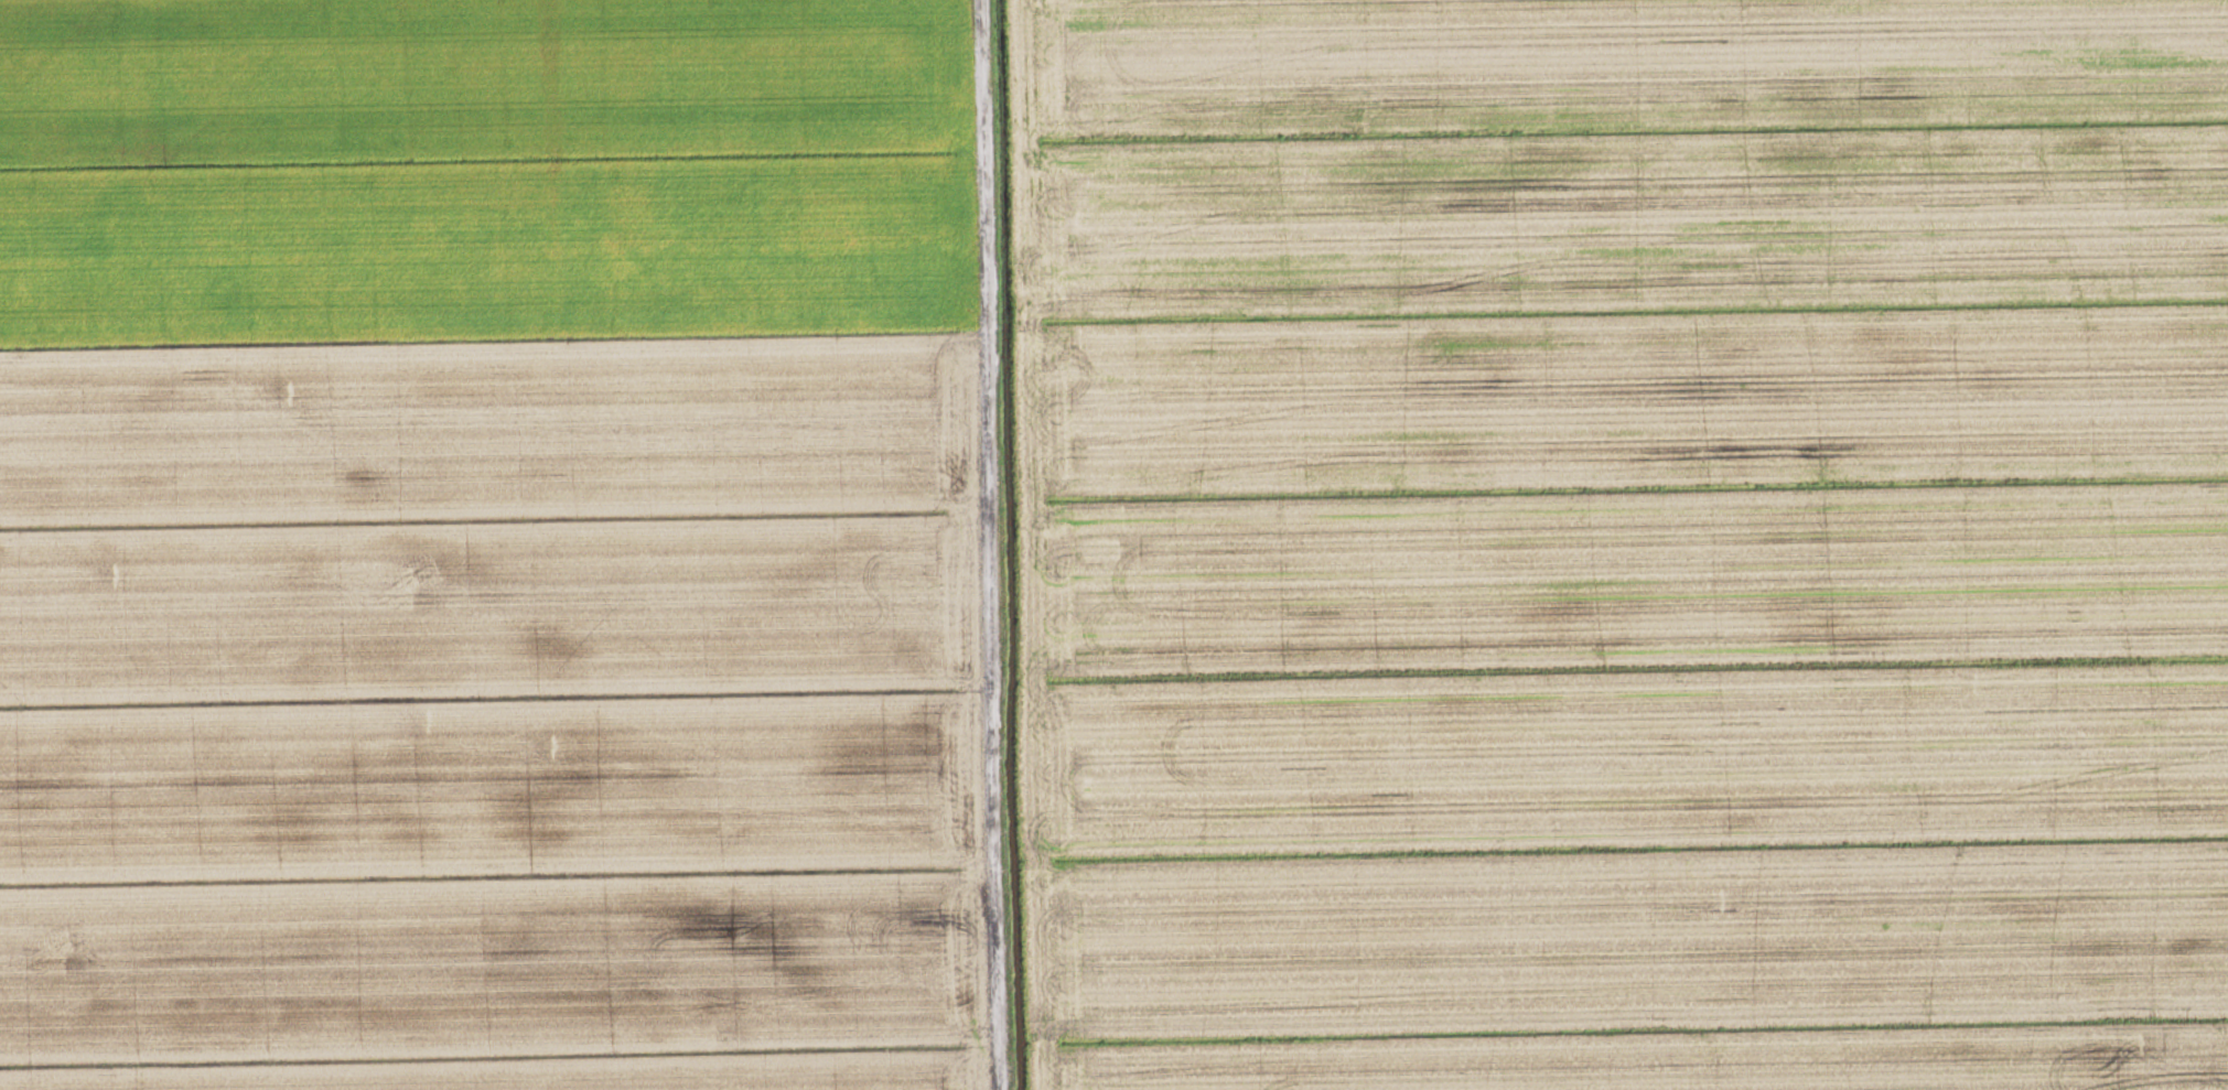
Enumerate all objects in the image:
crop: (1624, 542)
road: (998, 544)
crop: (493, 547)

